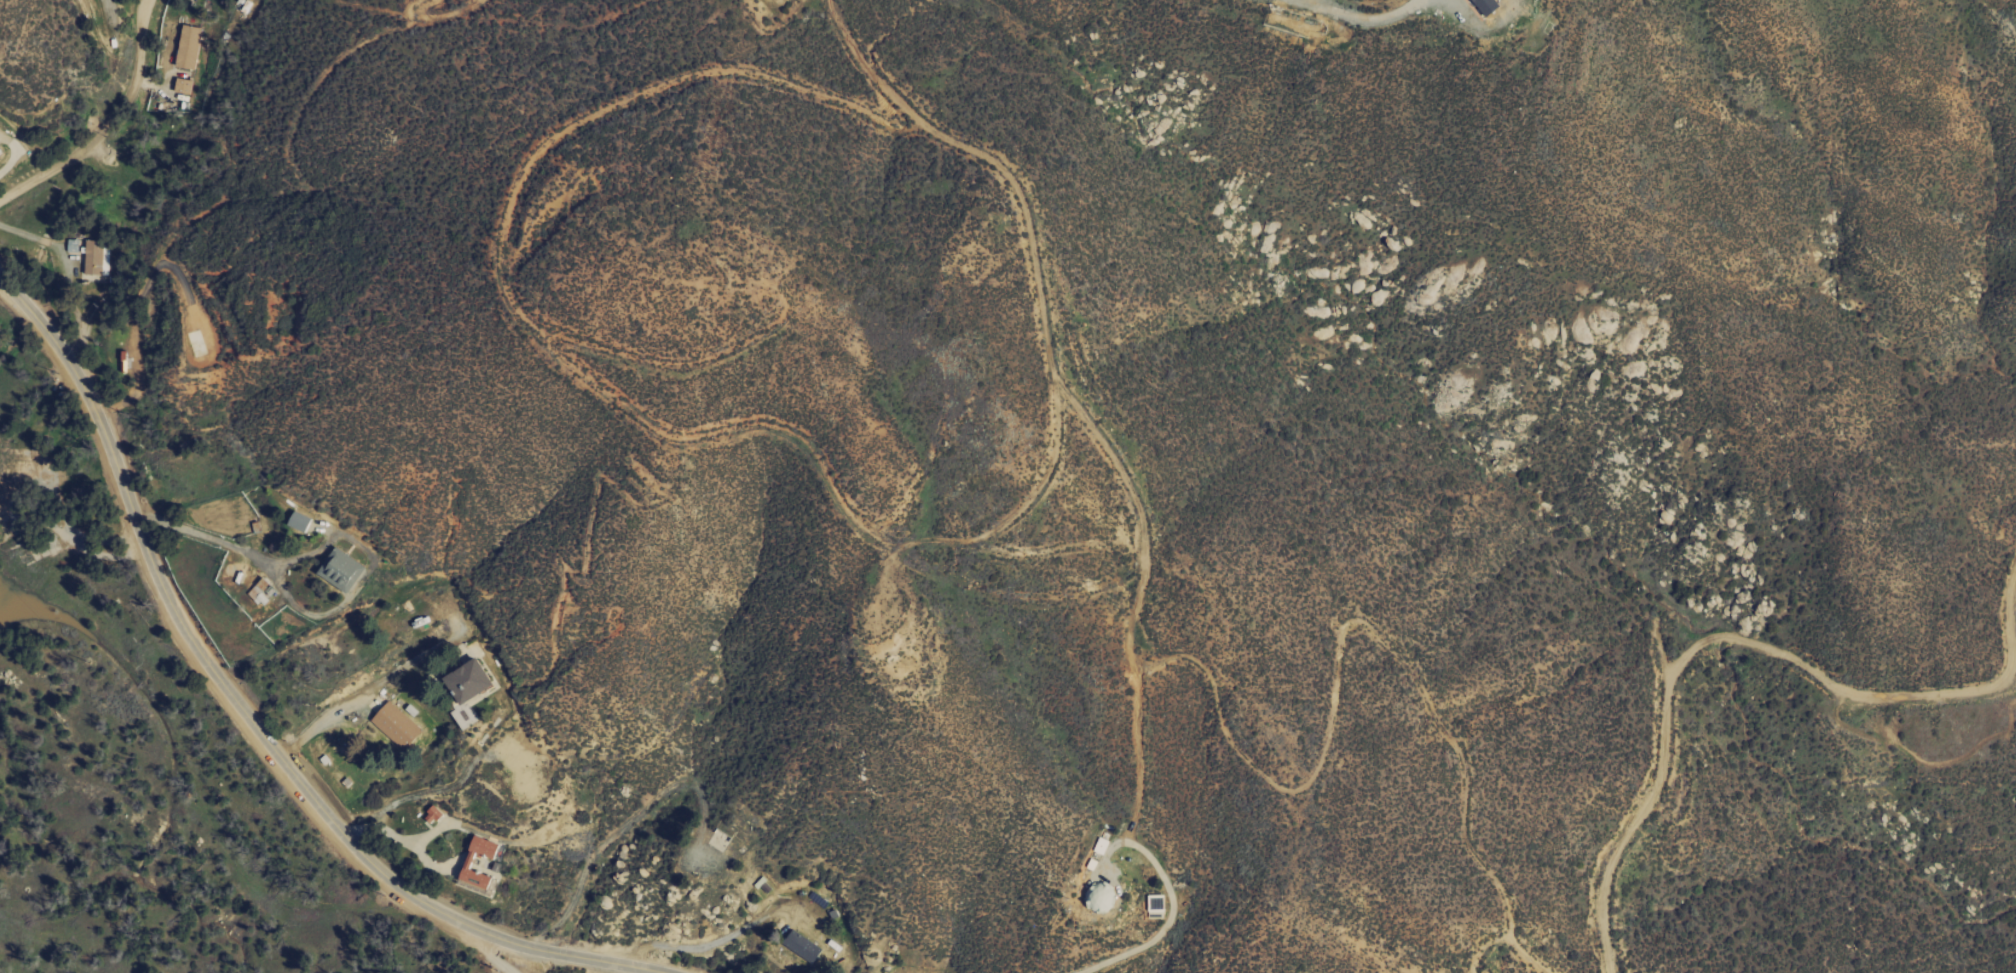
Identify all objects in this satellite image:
building: (771, 0)
building: (1476, 7)
road: (1359, 20)
building: (186, 46)
road: (106, 124)
building: (96, 258)
building: (339, 569)
road: (305, 612)
road: (1732, 642)
building: (464, 681)
road: (363, 692)
road: (250, 720)
building: (394, 724)
building: (431, 814)
building: (466, 864)
road: (476, 944)
building: (800, 945)
road: (1138, 948)
road: (637, 970)

